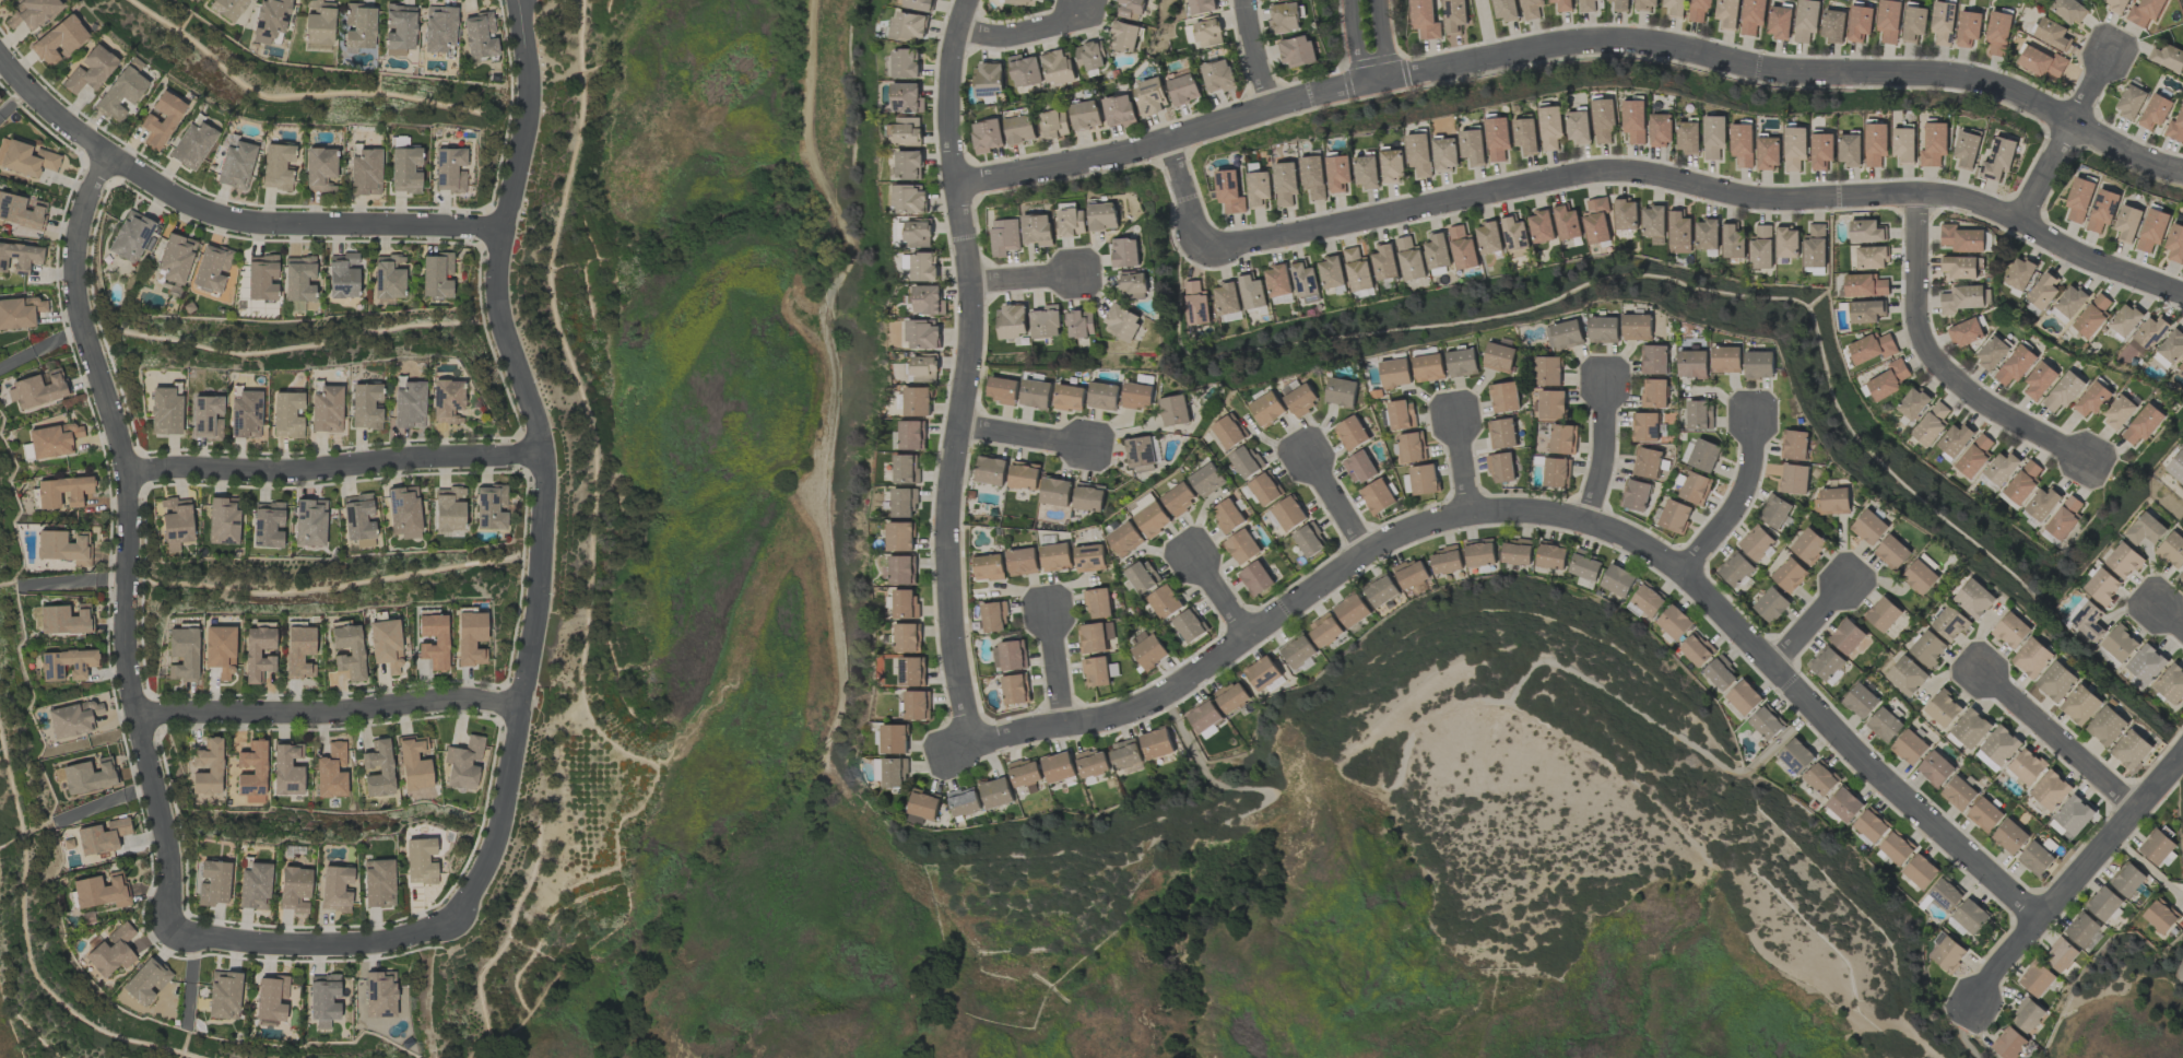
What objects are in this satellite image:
building: (1025, 2)
building: (921, 4)
building: (1562, 4)
building: (1647, 4)
building: (1585, 5)
building: (1620, 5)
building: (2117, 5)
building: (1201, 7)
building: (226, 8)
building: (1675, 8)
building: (1131, 9)
building: (1531, 9)
building: (1504, 10)
building: (1699, 10)
building: (2068, 10)
building: (31, 12)
building: (2146, 12)
building: (1727, 13)
building: (1455, 15)
building: (1753, 16)
building: (270, 19)
building: (1284, 19)
building: (1425, 20)
building: (1806, 21)
building: (1889, 21)
building: (1780, 22)
building: (1860, 23)
building: (1914, 23)
building: (1944, 23)
building: (317, 24)
building: (358, 25)
building: (1833, 25)
building: (910, 26)
building: (399, 28)
building: (438, 28)
building: (1969, 28)
road: (1029, 33)
building: (1998, 33)
building: (1207, 34)
building: (2052, 34)
building: (479, 35)
building: (1124, 37)
building: (57, 40)
road: (1370, 42)
road: (1573, 45)
building: (1298, 51)
road: (1256, 55)
building: (1089, 56)
building: (2168, 58)
building: (2043, 62)
building: (906, 63)
building: (1058, 68)
building: (88, 70)
building: (1024, 71)
building: (1218, 77)
building: (988, 80)
building: (1183, 90)
building: (119, 93)
building: (1149, 96)
building: (908, 98)
building: (2131, 102)
building: (1119, 110)
building: (2155, 111)
building: (1085, 115)
building: (161, 119)
building: (1604, 119)
building: (1635, 120)
building: (1054, 125)
building: (1551, 127)
building: (1579, 127)
building: (2175, 128)
building: (1019, 129)
building: (907, 130)
building: (1662, 130)
building: (987, 136)
building: (1526, 136)
building: (1688, 137)
building: (1714, 137)
building: (1498, 139)
road: (2063, 140)
building: (1876, 143)
building: (190, 144)
building: (1743, 144)
building: (1904, 144)
building: (1934, 144)
building: (1473, 145)
building: (1795, 148)
building: (1850, 150)
building: (1821, 151)
building: (1769, 153)
building: (1419, 154)
building: (1445, 154)
building: (25, 157)
building: (1998, 160)
building: (235, 163)
building: (909, 165)
building: (275, 166)
building: (1392, 166)
building: (319, 168)
building: (404, 169)
building: (448, 169)
building: (1367, 172)
building: (364, 173)
road: (1644, 173)
building: (1338, 174)
building: (1313, 176)
building: (1286, 184)
building: (1260, 189)
building: (1229, 192)
building: (907, 198)
building: (2079, 199)
building: (21, 211)
building: (2101, 211)
building: (1626, 214)
road: (224, 216)
building: (1104, 216)
building: (1072, 221)
building: (1596, 222)
building: (1567, 223)
building: (2127, 223)
building: (1653, 224)
building: (1541, 227)
building: (1037, 230)
building: (2152, 230)
building: (1866, 232)
building: (1514, 233)
building: (1679, 233)
building: (918, 234)
building: (1707, 235)
building: (129, 236)
building: (1004, 237)
building: (1488, 238)
building: (1961, 238)
building: (1733, 242)
building: (1786, 243)
building: (2175, 243)
building: (1815, 246)
building: (1462, 248)
building: (1760, 248)
building: (1437, 251)
building: (1125, 252)
building: (20, 257)
building: (1872, 258)
building: (175, 259)
building: (1409, 259)
building: (1384, 262)
building: (920, 266)
building: (211, 267)
building: (1961, 267)
building: (1357, 270)
building: (1331, 272)
building: (2019, 273)
building: (436, 274)
building: (342, 275)
building: (387, 277)
road: (1023, 277)
building: (261, 278)
building: (298, 279)
building: (1277, 281)
building: (1305, 281)
building: (1864, 285)
building: (1133, 286)
building: (2044, 290)
building: (1251, 291)
building: (1227, 298)
building: (1964, 298)
building: (1282, 299)
building: (928, 301)
building: (1195, 304)
building: (2068, 304)
building: (2030, 307)
building: (20, 311)
building: (1866, 311)
building: (2092, 316)
building: (2125, 319)
building: (1012, 321)
building: (1045, 322)
building: (1122, 322)
building: (1079, 324)
building: (1637, 327)
building: (1604, 329)
building: (1966, 332)
building: (922, 334)
building: (1565, 334)
building: (2148, 336)
building: (2172, 346)
building: (1872, 348)
building: (1992, 353)
building: (1499, 357)
building: (1653, 360)
building: (1725, 360)
building: (2161, 361)
building: (1462, 363)
building: (1692, 364)
road: (1937, 364)
building: (1759, 365)
building: (2015, 365)
building: (1428, 367)
building: (923, 368)
building: (2181, 368)
road: (967, 369)
building: (1547, 371)
building: (1395, 373)
building: (1887, 380)
building: (2040, 380)
building: (37, 389)
building: (1002, 390)
building: (1342, 391)
building: (2064, 392)
building: (1036, 393)
building: (1654, 393)
building: (1104, 396)
building: (1137, 396)
building: (1504, 397)
building: (1069, 398)
building: (1302, 399)
building: (2092, 399)
building: (445, 400)
building: (918, 401)
building: (1913, 403)
building: (408, 404)
building: (1551, 404)
building: (365, 405)
building: (324, 409)
building: (1267, 409)
building: (1175, 410)
building: (164, 411)
building: (2119, 412)
building: (285, 413)
building: (244, 414)
building: (1699, 414)
building: (1401, 415)
building: (205, 416)
building: (1931, 424)
building: (2143, 424)
building: (1644, 427)
building: (1229, 432)
building: (1352, 433)
building: (1501, 434)
building: (912, 435)
road: (1024, 437)
building: (52, 438)
building: (1562, 439)
building: (1955, 440)
building: (1794, 445)
building: (1412, 447)
building: (1141, 452)
road: (1601, 455)
building: (1703, 456)
building: (1974, 457)
building: (1246, 461)
road: (543, 462)
road: (332, 463)
road: (1462, 463)
building: (1647, 463)
building: (2176, 467)
building: (1359, 468)
building: (1501, 468)
building: (2002, 468)
building: (906, 469)
building: (990, 471)
building: (1556, 472)
building: (1024, 475)
building: (1795, 479)
building: (1207, 480)
building: (1424, 480)
building: (2022, 483)
building: (1695, 487)
building: (1265, 489)
building: (61, 491)
building: (1055, 492)
building: (1635, 495)
building: (1378, 496)
building: (1088, 497)
building: (1179, 498)
road: (1735, 499)
building: (1832, 502)
building: (905, 503)
building: (2042, 503)
road: (1335, 505)
building: (489, 506)
building: (448, 508)
building: (403, 512)
building: (1774, 512)
road: (1537, 513)
building: (1288, 514)
building: (1227, 516)
building: (1675, 516)
building: (1152, 518)
building: (2063, 518)
building: (357, 519)
building: (222, 520)
building: (309, 521)
building: (175, 522)
building: (267, 525)
building: (1869, 527)
building: (2147, 529)
road: (126, 537)
building: (900, 537)
building: (1125, 539)
building: (1310, 540)
building: (1756, 543)
building: (1808, 545)
building: (62, 546)
building: (1242, 546)
building: (2172, 550)
building: (1515, 552)
building: (1892, 552)
building: (1479, 553)
building: (1550, 555)
building: (1055, 557)
building: (1090, 559)
building: (1445, 561)
building: (2124, 561)
building: (1023, 562)
building: (1583, 566)
building: (989, 567)
building: (1734, 568)
building: (902, 571)
building: (1412, 574)
building: (1789, 575)
building: (1143, 576)
building: (1920, 577)
building: (1255, 578)
building: (2180, 578)
building: (1617, 580)
road: (74, 581)
building: (2102, 586)
building: (1380, 590)
road: (1217, 595)
building: (1975, 598)
building: (1645, 600)
building: (1165, 602)
building: (906, 603)
building: (1098, 603)
building: (1771, 606)
building: (1352, 610)
building: (1883, 614)
road: (2167, 615)
building: (994, 616)
building: (63, 619)
road: (1813, 620)
building: (2088, 621)
building: (1674, 622)
building: (1950, 623)
building: (1190, 625)
building: (1324, 630)
building: (2011, 631)
building: (908, 637)
building: (1095, 637)
building: (1846, 637)
building: (469, 638)
building: (432, 640)
building: (2120, 644)
building: (383, 645)
building: (1928, 648)
building: (1147, 649)
building: (1696, 649)
building: (219, 650)
building: (347, 650)
building: (297, 651)
building: (1298, 651)
building: (181, 654)
building: (257, 654)
building: (1008, 656)
building: (2032, 657)
building: (66, 663)
building: (1826, 663)
building: (2146, 665)
road: (1049, 669)
building: (911, 671)
building: (1096, 671)
building: (1262, 673)
building: (1720, 673)
building: (1908, 675)
building: (2056, 681)
building: (2171, 684)
building: (1015, 690)
building: (1231, 697)
building: (1744, 697)
building: (1861, 701)
building: (917, 705)
building: (2080, 705)
building: (1943, 708)
road: (327, 710)
building: (1203, 716)
building: (70, 720)
building: (1767, 722)
building: (1885, 725)
building: (2107, 726)
building: (1971, 728)
road: (2054, 738)
building: (894, 739)
building: (1156, 743)
building: (2001, 745)
building: (1909, 748)
building: (2132, 750)
building: (1125, 755)
building: (1796, 755)
building: (413, 763)
building: (462, 763)
building: (1091, 764)
building: (2027, 766)
building: (206, 767)
building: (1058, 767)
building: (286, 768)
building: (377, 768)
building: (1935, 768)
building: (330, 772)
building: (890, 772)
building: (251, 773)
building: (88, 775)
building: (1820, 778)
building: (2051, 790)
building: (995, 794)
building: (1958, 794)
building: (963, 801)
building: (1844, 804)
building: (922, 807)
building: (1984, 814)
building: (2074, 815)
building: (1871, 825)
building: (2060, 831)
building: (102, 835)
building: (2009, 836)
building: (1896, 847)
building: (2160, 847)
building: (2035, 859)
building: (418, 860)
road: (2148, 867)
building: (1920, 871)
road: (2076, 879)
building: (2127, 880)
building: (212, 882)
building: (377, 883)
building: (252, 886)
building: (334, 887)
building: (293, 889)
building: (1945, 893)
building: (2103, 904)
building: (2159, 916)
building: (1968, 918)
building: (2082, 930)
road: (310, 943)
building: (111, 951)
building: (1948, 954)
building: (2060, 955)
building: (2037, 979)
building: (145, 981)
building: (223, 995)
building: (382, 995)
building: (271, 998)
building: (322, 999)
building: (2027, 1015)
building: (2008, 1043)

